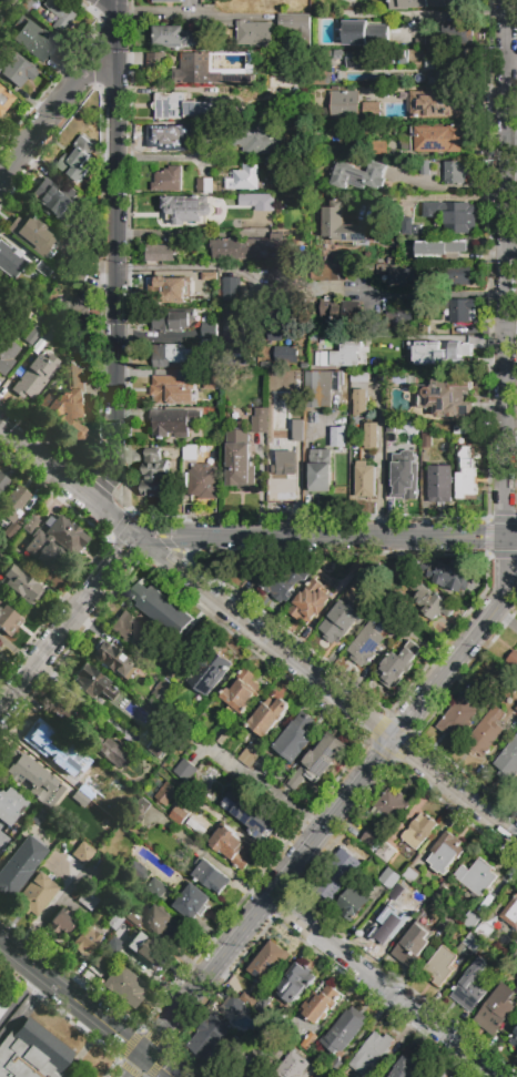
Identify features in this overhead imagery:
building: (169, 1)
building: (10, 2)
building: (418, 4)
building: (30, 7)
road: (102, 9)
building: (60, 14)
road: (184, 14)
building: (298, 27)
building: (365, 32)
building: (255, 33)
building: (175, 37)
building: (457, 39)
building: (33, 41)
building: (368, 61)
building: (156, 62)
building: (16, 68)
building: (215, 68)
building: (443, 69)
building: (394, 78)
road: (57, 95)
building: (4, 99)
building: (344, 105)
building: (437, 105)
building: (183, 106)
building: (372, 110)
building: (394, 111)
building: (457, 133)
building: (205, 134)
building: (168, 136)
road: (511, 138)
building: (258, 140)
building: (418, 143)
building: (358, 144)
building: (379, 149)
road: (159, 158)
building: (75, 160)
building: (424, 169)
building: (455, 172)
building: (358, 176)
building: (243, 179)
building: (168, 181)
building: (204, 187)
road: (428, 197)
building: (257, 202)
building: (55, 203)
building: (185, 211)
building: (404, 215)
building: (459, 217)
building: (343, 225)
building: (29, 231)
road: (171, 233)
road: (511, 245)
building: (244, 248)
building: (442, 248)
building: (159, 253)
road: (115, 254)
building: (10, 260)
road: (183, 266)
road: (506, 270)
building: (333, 275)
building: (457, 275)
building: (398, 276)
building: (276, 277)
building: (201, 280)
building: (1, 287)
building: (236, 287)
road: (429, 295)
building: (170, 297)
building: (460, 309)
building: (75, 313)
building: (344, 315)
building: (172, 322)
building: (401, 323)
building: (231, 326)
building: (209, 331)
building: (32, 334)
road: (155, 336)
building: (209, 347)
building: (339, 353)
building: (436, 353)
building: (7, 354)
building: (284, 354)
building: (171, 356)
building: (34, 376)
building: (357, 376)
building: (213, 383)
building: (320, 388)
building: (171, 389)
building: (444, 397)
building: (359, 402)
building: (69, 406)
building: (281, 412)
building: (260, 417)
building: (173, 421)
building: (392, 430)
building: (459, 430)
building: (372, 437)
building: (425, 440)
building: (342, 446)
building: (191, 453)
building: (240, 459)
road: (378, 461)
building: (320, 470)
building: (465, 473)
building: (154, 475)
building: (405, 476)
building: (283, 477)
road: (64, 478)
building: (364, 479)
building: (2, 482)
building: (204, 485)
building: (439, 485)
building: (11, 501)
building: (28, 524)
road: (164, 531)
building: (10, 532)
road: (355, 539)
road: (514, 539)
road: (174, 541)
building: (53, 542)
road: (119, 548)
road: (128, 552)
road: (513, 556)
road: (187, 557)
road: (98, 578)
building: (449, 578)
road: (509, 581)
building: (281, 582)
building: (21, 583)
building: (339, 587)
building: (310, 603)
building: (432, 604)
building: (165, 611)
road: (505, 618)
building: (7, 620)
building: (338, 623)
building: (403, 627)
building: (129, 629)
building: (367, 642)
road: (43, 647)
building: (171, 651)
building: (109, 658)
building: (513, 660)
building: (398, 664)
building: (210, 672)
building: (92, 682)
road: (323, 684)
building: (162, 692)
building: (242, 692)
building: (485, 702)
building: (102, 704)
building: (516, 709)
building: (173, 711)
building: (67, 714)
building: (267, 718)
building: (457, 719)
building: (42, 731)
building: (485, 733)
building: (295, 739)
building: (225, 741)
building: (158, 748)
building: (112, 752)
building: (247, 758)
building: (318, 760)
building: (508, 762)
building: (85, 765)
building: (264, 765)
building: (11, 769)
building: (185, 771)
building: (31, 782)
building: (165, 794)
building: (9, 805)
building: (392, 806)
building: (138, 810)
building: (249, 813)
building: (75, 814)
building: (179, 816)
building: (29, 830)
building: (418, 831)
road: (320, 832)
building: (53, 837)
building: (369, 839)
building: (231, 845)
building: (128, 846)
building: (82, 852)
building: (386, 853)
building: (445, 853)
building: (136, 871)
building: (335, 876)
building: (410, 876)
building: (476, 876)
building: (213, 877)
building: (10, 878)
building: (388, 880)
building: (156, 888)
building: (34, 894)
building: (395, 895)
building: (439, 897)
building: (88, 900)
building: (193, 903)
building: (353, 903)
building: (510, 914)
building: (133, 917)
building: (113, 921)
building: (470, 921)
building: (61, 923)
building: (393, 923)
building: (163, 924)
building: (447, 926)
building: (485, 931)
building: (85, 939)
building: (113, 946)
building: (412, 946)
building: (470, 947)
building: (148, 952)
building: (103, 962)
building: (268, 962)
building: (442, 966)
building: (295, 985)
building: (126, 986)
building: (472, 986)
road: (387, 987)
road: (20, 996)
building: (249, 1000)
building: (321, 1003)
road: (22, 1005)
building: (264, 1005)
building: (236, 1006)
road: (84, 1008)
building: (496, 1009)
building: (344, 1032)
building: (513, 1033)
building: (210, 1037)
building: (307, 1039)
building: (513, 1040)
building: (32, 1053)
building: (232, 1054)
building: (372, 1055)
traffic signals: (145, 1057)
building: (254, 1066)
building: (312, 1067)
building: (336, 1068)
building: (407, 1068)
building: (284, 1070)
building: (453, 1076)

